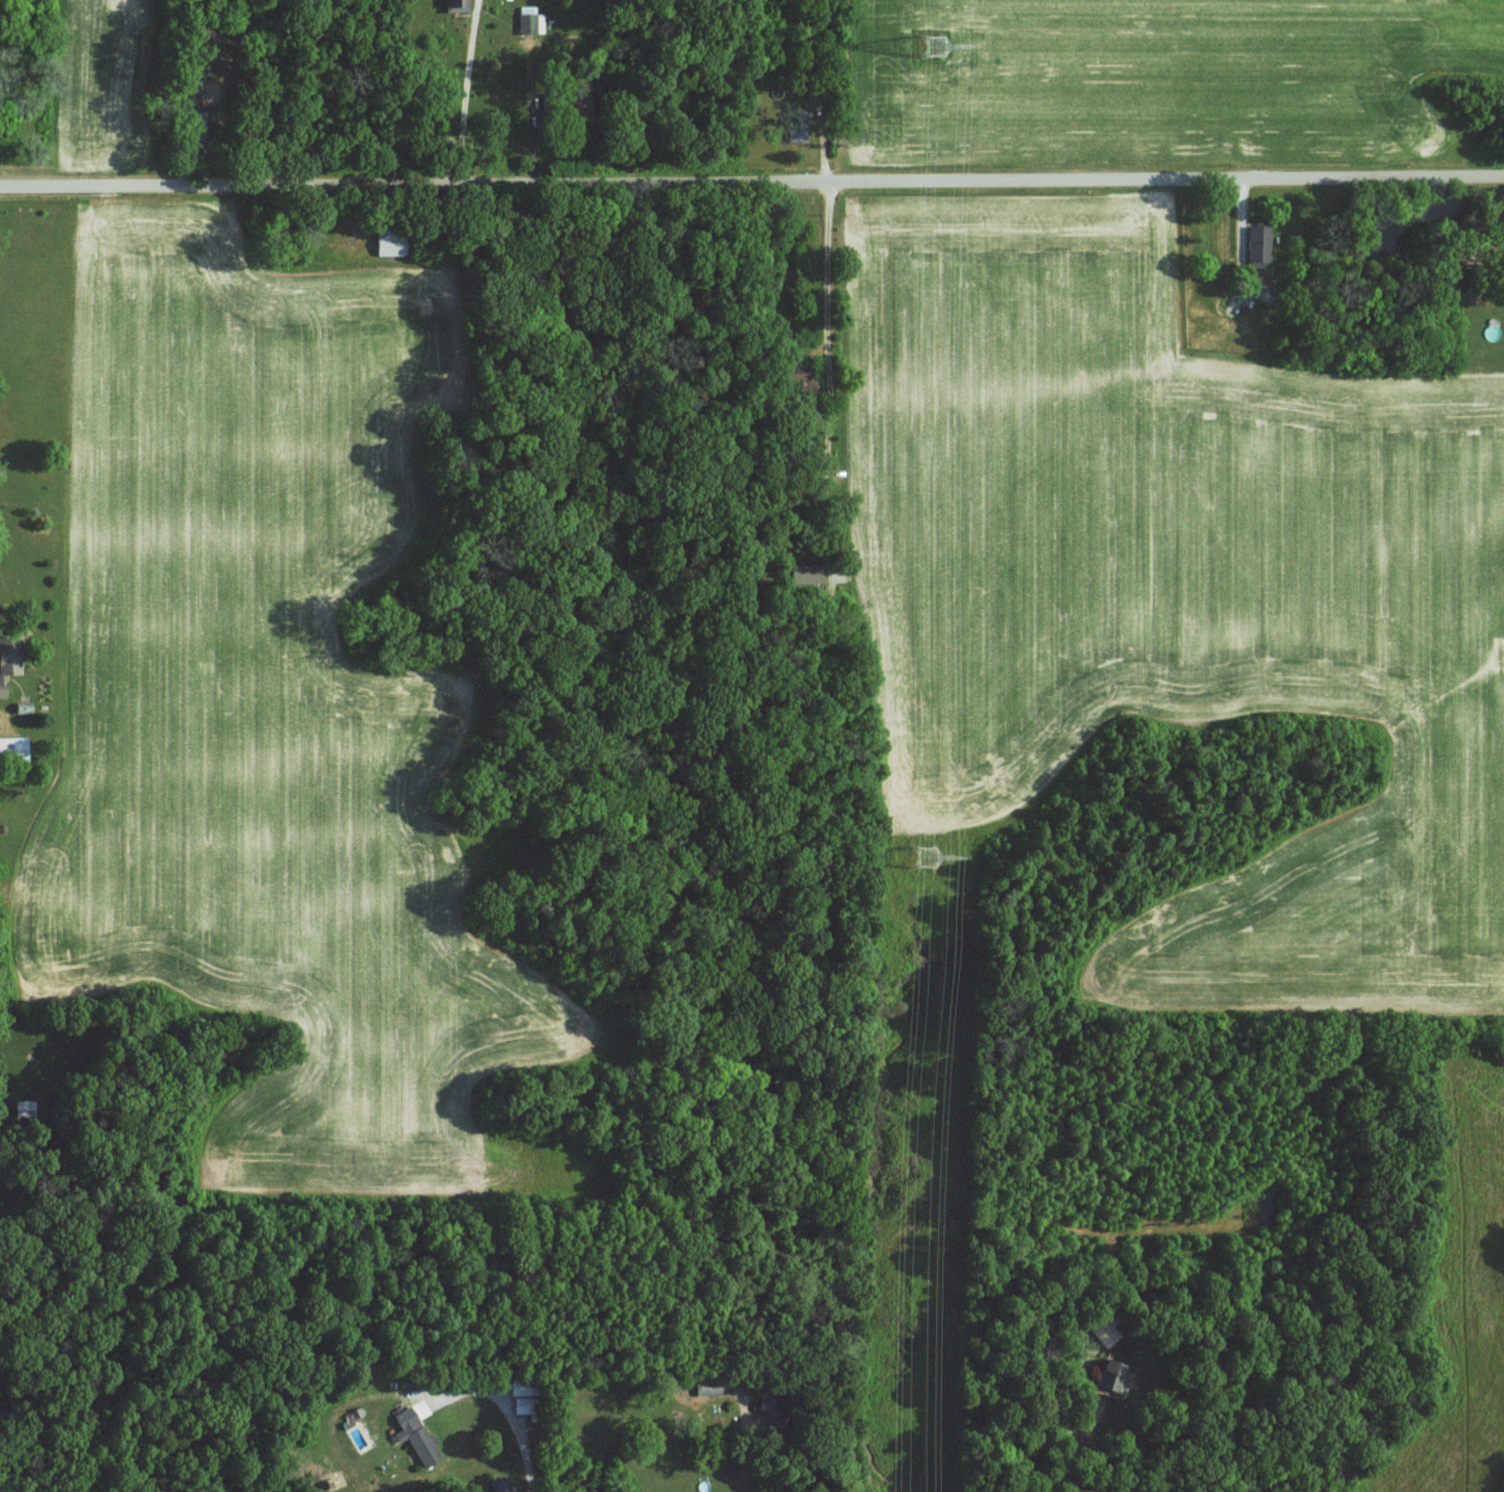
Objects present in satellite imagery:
building: (456, 4)
building: (526, 18)
power tower: (932, 47)
road: (463, 92)
building: (796, 123)
building: (200, 128)
road: (752, 184)
building: (391, 242)
building: (1258, 242)
building: (801, 376)
road: (828, 378)
road: (369, 424)
building: (806, 573)
building: (8, 658)
building: (12, 747)
power tower: (923, 857)
building: (23, 1107)
building: (1103, 1331)
building: (1109, 1375)
building: (706, 1386)
building: (520, 1396)
building: (768, 1404)
road: (517, 1413)
building: (415, 1435)
building: (501, 1486)

